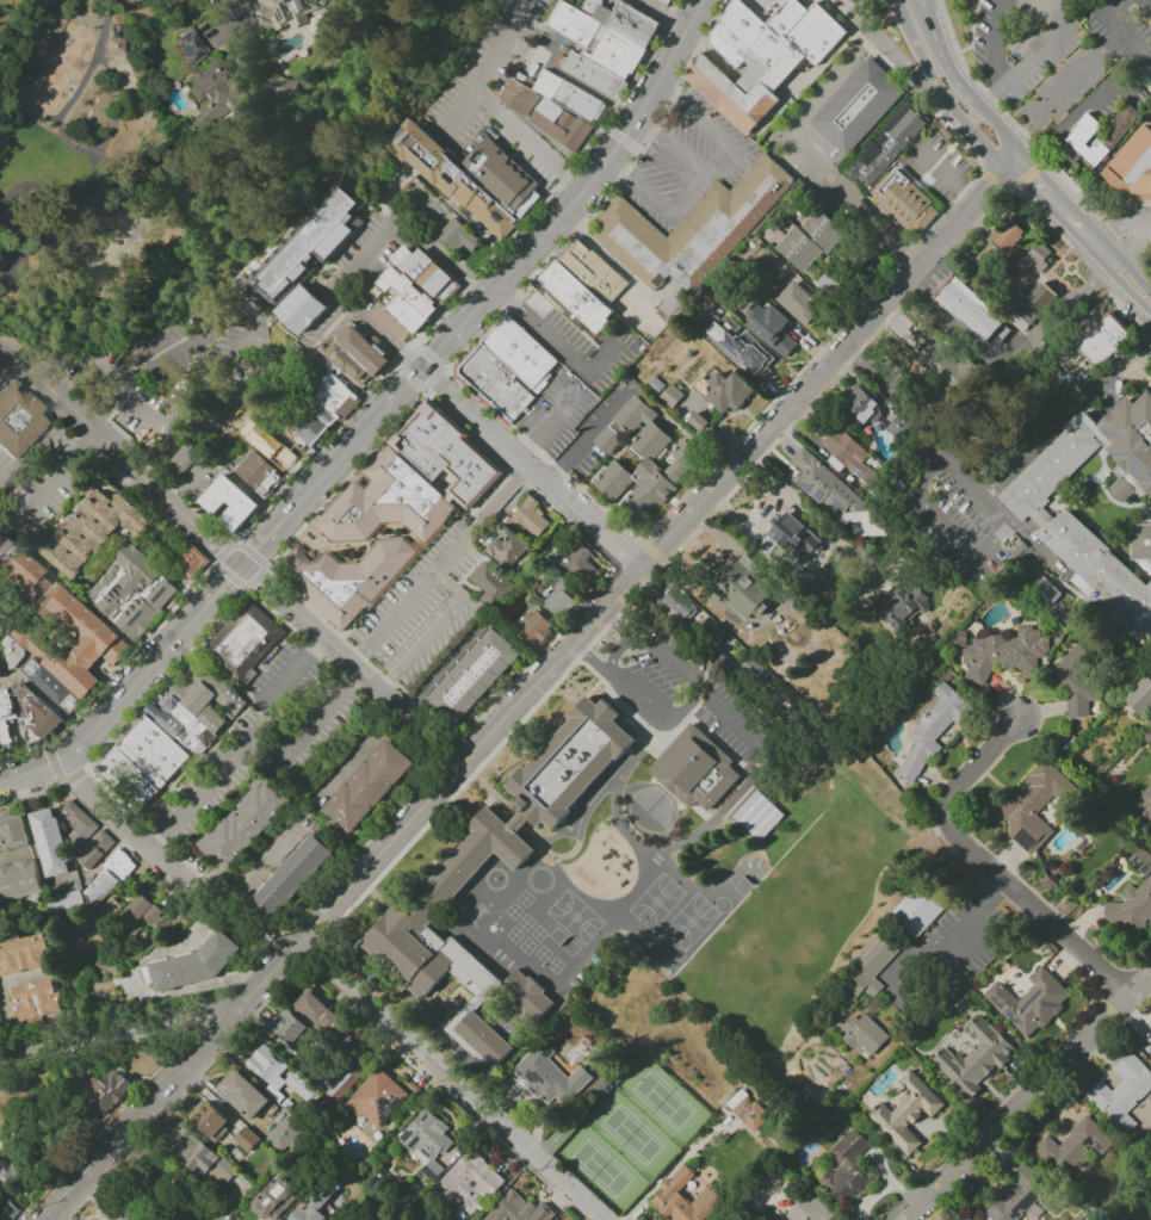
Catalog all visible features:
building: (667, 2)
road: (1052, 4)
road: (897, 7)
building: (284, 14)
road: (664, 14)
building: (630, 23)
road: (1119, 26)
road: (994, 41)
building: (112, 44)
road: (1041, 44)
road: (864, 48)
building: (599, 49)
road: (889, 52)
building: (765, 56)
road: (922, 57)
road: (940, 57)
road: (674, 58)
road: (92, 67)
parking lot: (484, 70)
road: (571, 81)
building: (208, 83)
building: (279, 88)
road: (1065, 88)
road: (991, 94)
building: (573, 98)
road: (490, 104)
building: (860, 107)
road: (996, 113)
building: (549, 114)
road: (1005, 119)
building: (910, 128)
road: (111, 130)
road: (710, 130)
road: (1000, 131)
road: (629, 132)
building: (1085, 135)
road: (976, 137)
road: (620, 138)
parking lot: (683, 161)
building: (1132, 165)
road: (818, 166)
parking lot: (937, 167)
road: (946, 174)
road: (1025, 177)
building: (452, 178)
building: (505, 178)
road: (1031, 179)
road: (990, 181)
park: (119, 182)
road: (558, 188)
road: (691, 194)
road: (1121, 202)
building: (904, 203)
road: (1058, 206)
road: (1040, 216)
road: (82, 219)
building: (693, 229)
road: (1085, 234)
building: (459, 237)
road: (1127, 239)
building: (809, 240)
building: (1007, 243)
building: (308, 246)
road: (533, 246)
building: (1033, 259)
building: (595, 272)
building: (432, 275)
road: (1126, 278)
road: (347, 286)
road: (1109, 289)
road: (506, 298)
building: (406, 301)
building: (576, 301)
building: (798, 304)
building: (1028, 304)
building: (967, 309)
building: (305, 311)
road: (91, 320)
building: (769, 329)
building: (1102, 339)
building: (738, 346)
building: (521, 353)
road: (568, 355)
building: (359, 358)
road: (156, 359)
road: (1013, 359)
road: (1126, 360)
road: (99, 364)
road: (5, 367)
road: (837, 372)
road: (104, 376)
road: (429, 377)
building: (497, 383)
road: (809, 386)
road: (425, 388)
building: (700, 388)
building: (726, 392)
building: (669, 396)
building: (338, 397)
road: (458, 402)
road: (113, 405)
building: (860, 407)
road: (132, 408)
road: (555, 416)
building: (18, 419)
building: (697, 421)
road: (599, 425)
building: (625, 425)
building: (316, 426)
road: (491, 433)
road: (385, 435)
building: (295, 441)
road: (312, 450)
road: (525, 450)
building: (277, 451)
road: (510, 451)
building: (447, 453)
building: (847, 453)
road: (345, 454)
road: (124, 457)
building: (187, 460)
road: (557, 471)
building: (646, 471)
building: (260, 476)
road: (161, 481)
road: (966, 481)
road: (45, 485)
building: (828, 490)
building: (386, 503)
building: (1096, 504)
building: (234, 506)
road: (766, 510)
road: (578, 513)
building: (527, 518)
building: (89, 531)
road: (830, 531)
road: (641, 537)
building: (793, 538)
road: (952, 540)
building: (505, 549)
road: (649, 550)
building: (193, 563)
road: (439, 565)
road: (264, 566)
building: (580, 566)
building: (346, 580)
building: (488, 582)
building: (741, 589)
building: (134, 594)
building: (557, 600)
parking lot: (426, 603)
building: (679, 603)
building: (902, 608)
building: (532, 628)
road: (321, 638)
building: (69, 639)
building: (245, 642)
building: (20, 648)
road: (619, 651)
building: (1003, 654)
road: (111, 671)
building: (753, 671)
building: (0, 674)
building: (479, 676)
road: (166, 677)
building: (50, 686)
road: (129, 686)
building: (1073, 689)
parking lot: (692, 694)
building: (1139, 696)
building: (208, 698)
building: (6, 704)
road: (687, 705)
building: (36, 713)
road: (723, 714)
building: (184, 717)
road: (307, 722)
building: (171, 726)
building: (932, 730)
road: (489, 735)
building: (4, 736)
parking lot: (258, 747)
road: (496, 747)
road: (241, 749)
building: (569, 762)
building: (143, 763)
building: (693, 769)
road: (57, 779)
building: (370, 788)
road: (74, 801)
building: (1143, 804)
building: (1033, 806)
building: (757, 816)
building: (242, 824)
building: (80, 825)
road: (124, 825)
building: (13, 835)
building: (50, 843)
building: (95, 849)
road: (986, 867)
building: (106, 878)
building: (293, 878)
park: (494, 879)
park: (745, 880)
building: (19, 881)
building: (1133, 898)
park: (655, 903)
park: (720, 905)
building: (107, 908)
building: (914, 910)
road: (978, 912)
building: (136, 916)
park: (574, 918)
park: (688, 922)
park: (562, 942)
building: (454, 943)
park: (655, 949)
park: (676, 954)
building: (24, 955)
building: (194, 967)
building: (867, 970)
road: (14, 980)
building: (36, 999)
building: (1028, 1003)
building: (320, 1015)
road: (8, 1027)
building: (287, 1027)
road: (120, 1029)
building: (861, 1035)
road: (210, 1039)
building: (1149, 1047)
building: (358, 1054)
building: (973, 1058)
building: (277, 1075)
building: (551, 1077)
road: (450, 1082)
building: (105, 1090)
building: (1122, 1091)
building: (241, 1095)
road: (1028, 1097)
building: (375, 1098)
park: (658, 1100)
building: (745, 1110)
building: (905, 1111)
building: (209, 1121)
park: (627, 1134)
building: (280, 1135)
building: (245, 1139)
building: (425, 1141)
building: (1071, 1147)
building: (188, 1150)
park: (596, 1168)
building: (846, 1168)
building: (222, 1170)
building: (470, 1182)
road: (162, 1183)
building: (1019, 1196)
building: (273, 1199)
building: (682, 1200)
building: (311, 1206)
building: (512, 1208)
building: (807, 1209)
building: (124, 1218)
building: (963, 1218)

